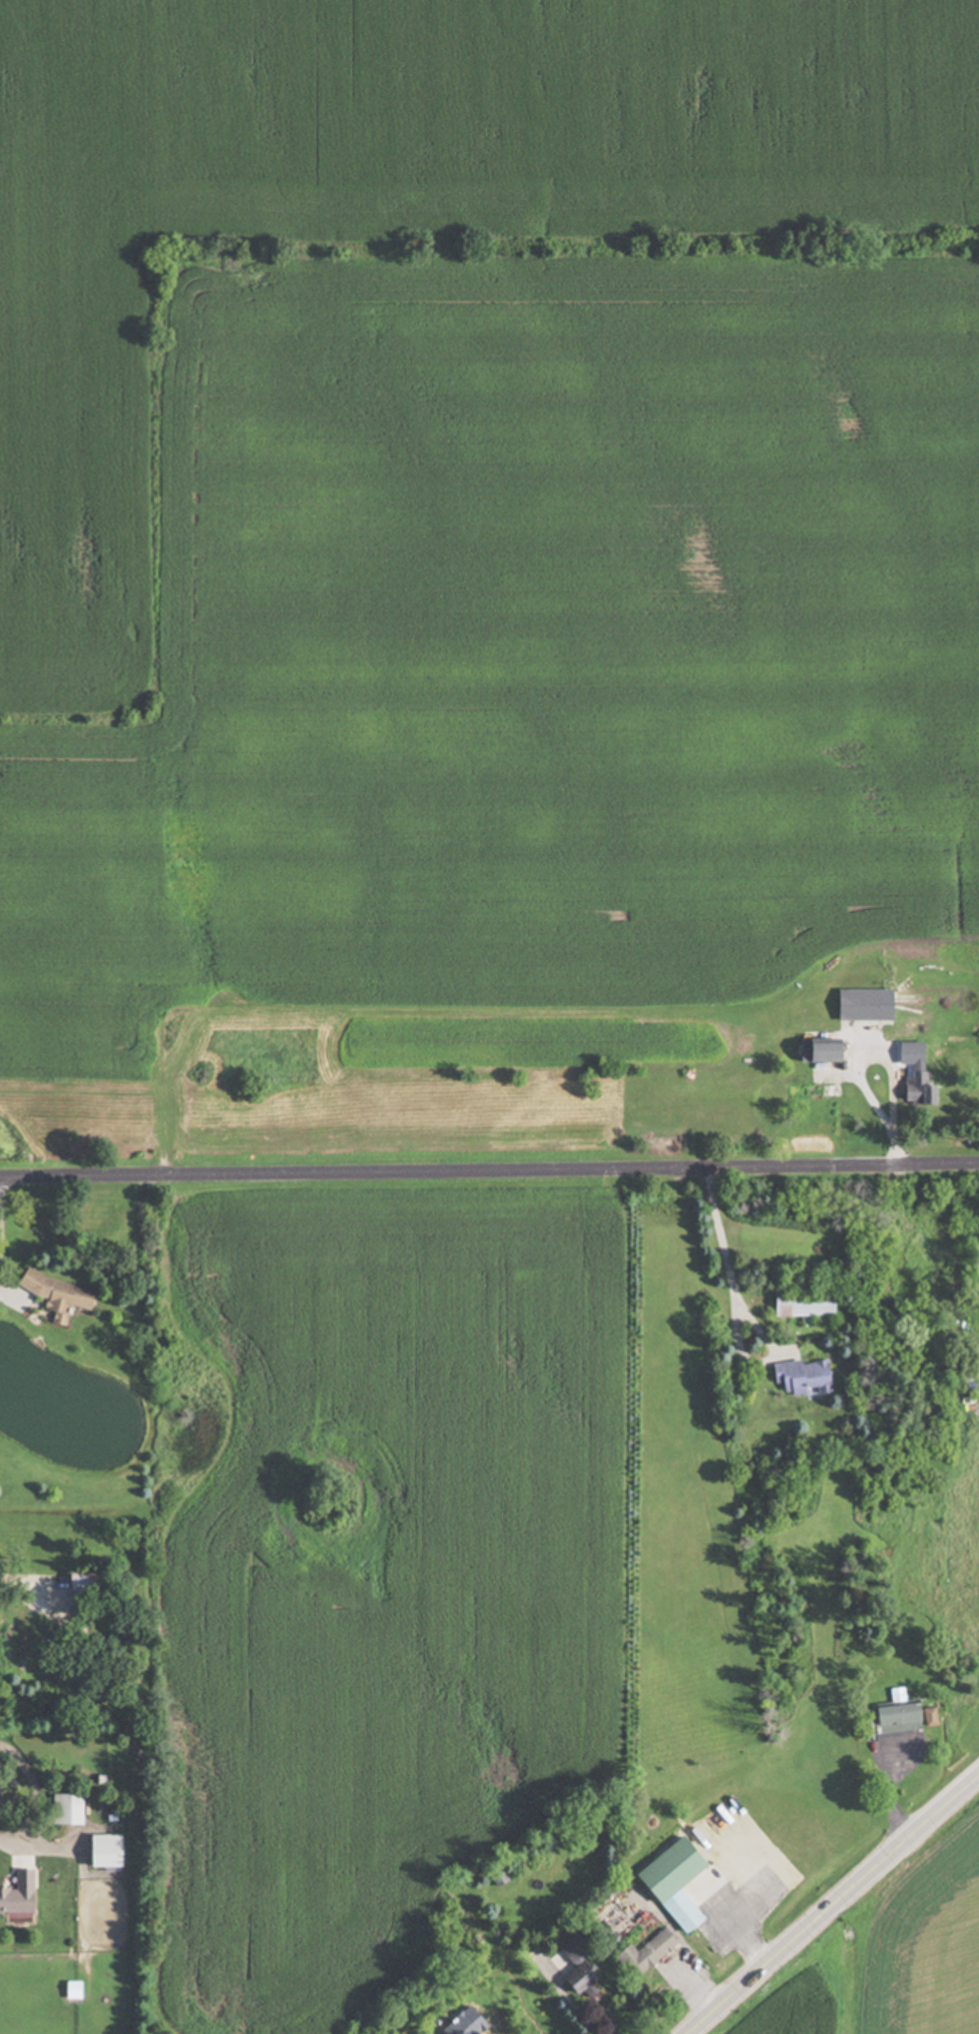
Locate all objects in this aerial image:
building: (815, 1050)
building: (908, 1052)
road: (856, 1064)
building: (915, 1089)
road: (489, 1170)
road: (1, 1222)
building: (56, 1295)
building: (801, 1303)
road: (736, 1306)
building: (800, 1377)
road: (22, 1585)
building: (901, 1718)
building: (63, 1809)
road: (20, 1840)
building: (100, 1851)
building: (671, 1882)
building: (16, 1894)
road: (834, 1906)
road: (737, 1929)
building: (644, 1954)
building: (571, 1967)
building: (71, 1990)
road: (586, 2013)

